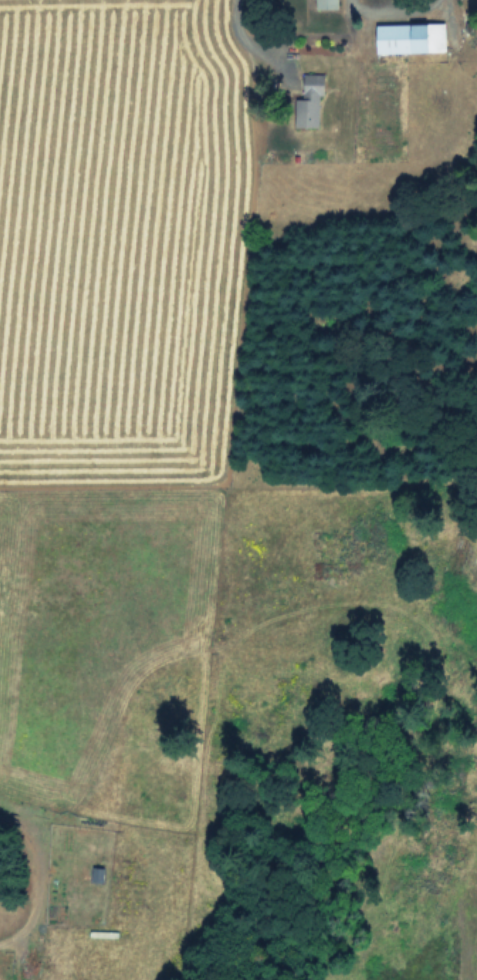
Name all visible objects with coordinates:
building: (324, 3)
building: (407, 36)
road: (240, 40)
building: (306, 99)
crop: (149, 419)
building: (95, 873)
road: (38, 876)

